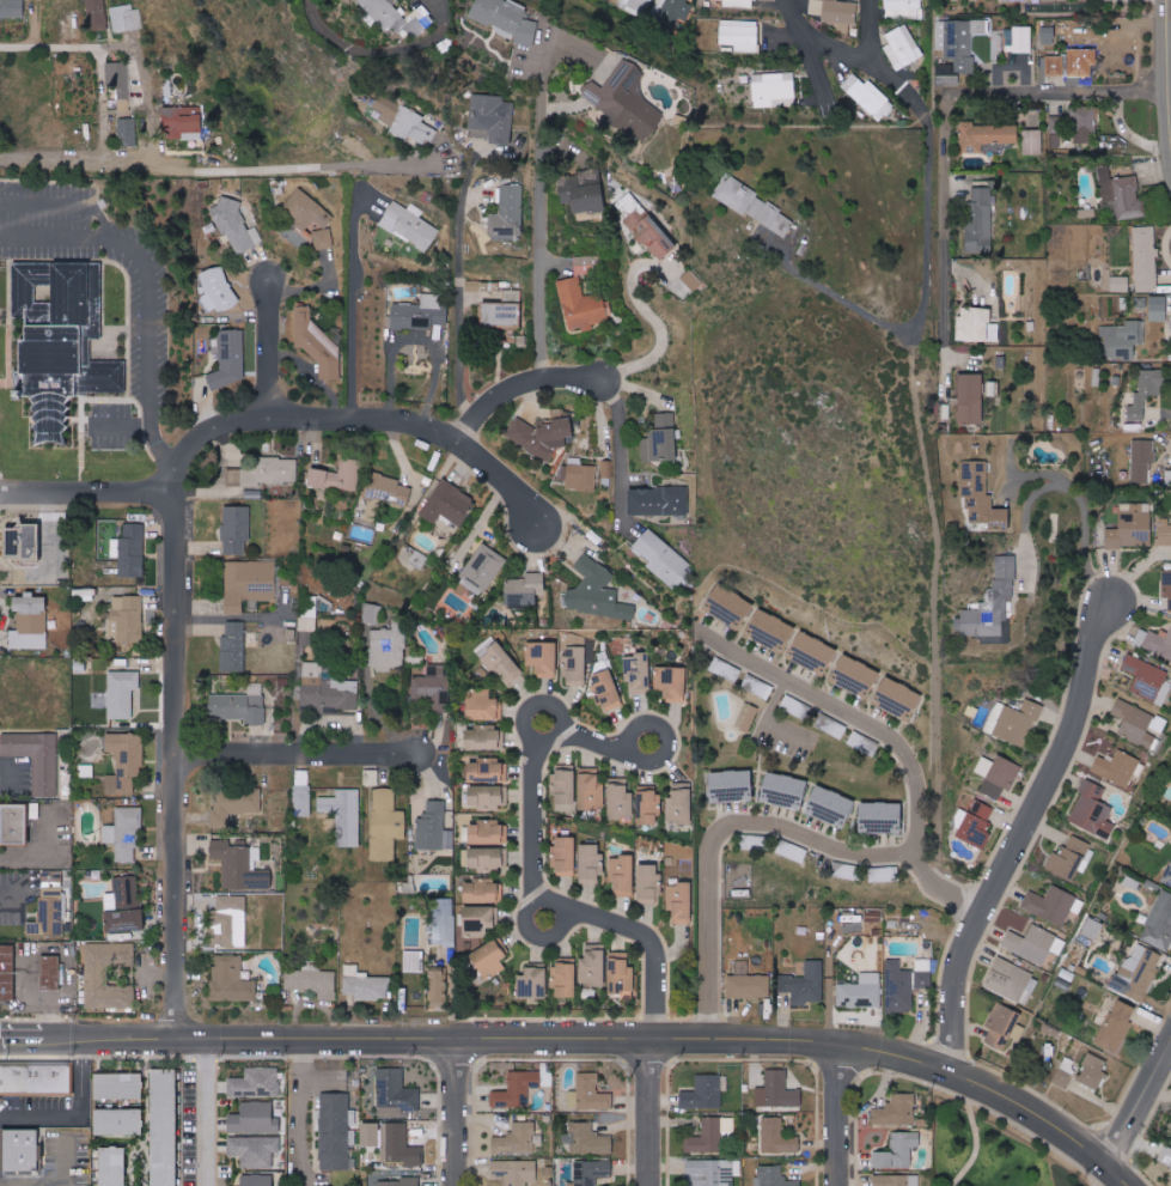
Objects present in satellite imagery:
building: (1014, 0)
building: (635, 4)
building: (738, 4)
building: (902, 7)
building: (11, 8)
building: (670, 12)
building: (835, 12)
building: (96, 14)
building: (126, 18)
building: (400, 19)
building: (507, 20)
road: (870, 30)
building: (740, 35)
building: (1048, 35)
building: (1023, 39)
building: (958, 41)
road: (358, 45)
building: (902, 47)
building: (992, 48)
road: (810, 54)
building: (1072, 63)
building: (946, 74)
building: (118, 78)
building: (774, 90)
building: (867, 96)
building: (626, 98)
road: (945, 105)
building: (386, 109)
road: (151, 112)
building: (492, 117)
building: (183, 122)
building: (1075, 124)
building: (413, 127)
building: (127, 132)
building: (1032, 141)
building: (651, 157)
road: (295, 166)
building: (1104, 182)
building: (583, 189)
building: (1128, 199)
road: (67, 201)
building: (756, 205)
building: (305, 209)
building: (507, 212)
road: (541, 212)
building: (1087, 212)
building: (980, 219)
building: (236, 225)
building: (409, 225)
road: (927, 233)
building: (654, 236)
building: (322, 238)
building: (1145, 259)
building: (691, 280)
road: (458, 281)
building: (1120, 284)
building: (571, 286)
building: (218, 290)
road: (148, 292)
building: (511, 296)
building: (1158, 303)
road: (352, 309)
building: (420, 312)
building: (501, 314)
building: (976, 324)
road: (660, 334)
building: (55, 335)
building: (1122, 339)
building: (315, 342)
road: (272, 347)
building: (231, 358)
building: (106, 376)
road: (519, 385)
building: (1146, 393)
building: (971, 397)
road: (359, 418)
road: (120, 424)
building: (542, 434)
building: (661, 439)
road: (618, 449)
building: (1142, 458)
building: (605, 468)
building: (270, 472)
road: (1030, 473)
building: (347, 474)
building: (579, 476)
building: (318, 478)
road: (1071, 487)
road: (87, 492)
building: (385, 495)
building: (982, 498)
building: (659, 500)
building: (450, 504)
building: (1132, 527)
building: (237, 529)
building: (1164, 530)
building: (24, 541)
building: (133, 549)
building: (664, 558)
building: (483, 568)
building: (249, 584)
building: (525, 589)
building: (1166, 591)
building: (598, 592)
building: (319, 603)
building: (730, 606)
building: (993, 606)
building: (372, 613)
building: (127, 619)
building: (30, 621)
building: (307, 624)
building: (771, 630)
building: (281, 633)
building: (1154, 643)
building: (305, 644)
building: (233, 646)
building: (388, 647)
building: (813, 652)
building: (543, 658)
building: (500, 661)
building: (574, 661)
building: (638, 673)
building: (856, 676)
building: (1142, 679)
building: (671, 682)
building: (758, 686)
building: (432, 688)
building: (606, 689)
building: (327, 691)
building: (122, 693)
building: (898, 698)
building: (482, 705)
building: (239, 706)
building: (748, 717)
building: (1018, 722)
building: (1134, 723)
building: (836, 729)
road: (894, 737)
building: (483, 738)
building: (864, 743)
road: (297, 753)
building: (36, 758)
building: (124, 762)
road: (176, 764)
building: (1117, 767)
building: (486, 771)
building: (998, 776)
building: (371, 777)
building: (566, 785)
building: (732, 785)
building: (590, 787)
building: (785, 790)
building: (301, 792)
building: (486, 796)
building: (621, 798)
building: (679, 803)
building: (234, 804)
building: (648, 804)
building: (831, 807)
building: (1093, 811)
building: (344, 815)
building: (883, 817)
building: (16, 823)
building: (385, 825)
building: (977, 825)
building: (433, 827)
building: (486, 833)
building: (124, 834)
road: (718, 835)
road: (1023, 835)
building: (764, 843)
building: (793, 851)
building: (565, 856)
building: (487, 857)
building: (1071, 859)
building: (591, 863)
building: (240, 866)
building: (848, 871)
building: (622, 874)
building: (884, 874)
road: (537, 877)
building: (1167, 877)
building: (648, 883)
building: (481, 890)
road: (14, 899)
building: (681, 902)
building: (124, 905)
building: (1054, 905)
building: (50, 906)
building: (478, 919)
building: (230, 922)
building: (443, 922)
building: (872, 922)
building: (1159, 923)
building: (1092, 927)
building: (1031, 943)
building: (490, 959)
building: (593, 965)
building: (7, 972)
building: (50, 972)
building: (621, 974)
building: (1138, 974)
building: (97, 975)
building: (565, 978)
building: (231, 979)
building: (313, 981)
building: (1012, 981)
building: (438, 983)
building: (366, 984)
building: (806, 984)
building: (905, 984)
building: (749, 986)
building: (861, 991)
road: (32, 995)
building: (1001, 1026)
building: (1118, 1026)
road: (327, 1038)
road: (907, 1059)
building: (1065, 1071)
building: (1093, 1071)
building: (36, 1079)
building: (256, 1083)
building: (120, 1085)
building: (517, 1089)
building: (777, 1090)
building: (396, 1093)
building: (592, 1093)
building: (705, 1093)
road: (1140, 1107)
building: (896, 1111)
road: (206, 1112)
road: (299, 1112)
road: (78, 1113)
road: (452, 1113)
road: (654, 1113)
road: (834, 1115)
building: (255, 1119)
building: (120, 1121)
building: (165, 1127)
building: (335, 1132)
building: (709, 1135)
road: (974, 1136)
building: (777, 1137)
building: (518, 1139)
building: (400, 1145)
park: (1001, 1147)
building: (22, 1150)
building: (255, 1150)
building: (898, 1150)
building: (1165, 1157)
building: (114, 1166)
building: (514, 1172)
building: (591, 1172)
building: (713, 1172)
building: (774, 1176)
road: (57, 1178)
road: (1100, 1178)
building: (257, 1180)
building: (896, 1180)
building: (398, 1181)
building: (323, 1185)

